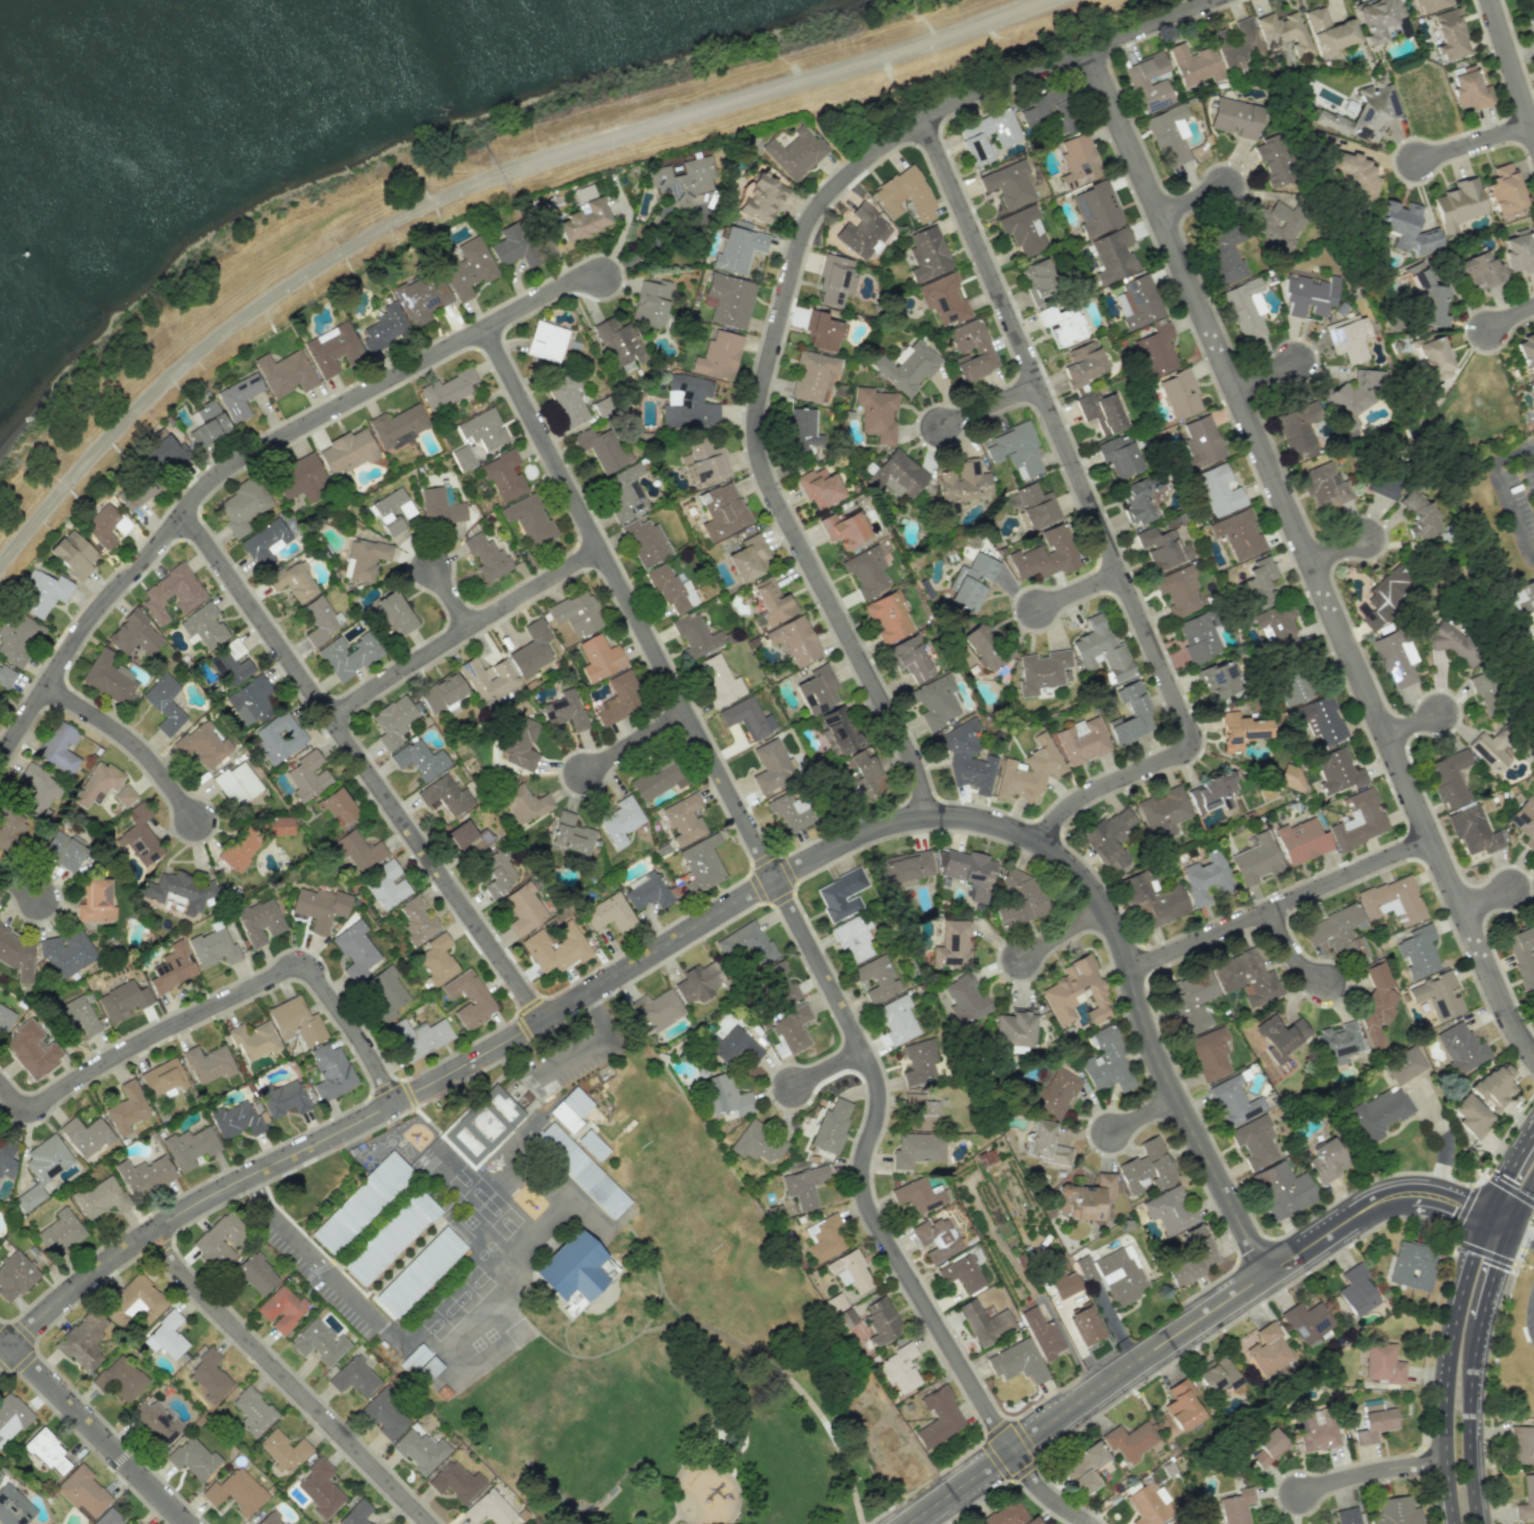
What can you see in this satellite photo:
building: (1533, 2)
building: (1377, 18)
building: (1531, 21)
building: (1283, 31)
building: (1328, 32)
building: (1450, 35)
building: (1237, 47)
building: (1195, 64)
road: (1512, 66)
river: (104, 75)
building: (1149, 82)
building: (1470, 89)
road: (771, 90)
building: (1041, 106)
building: (1364, 112)
building: (1235, 118)
building: (1169, 135)
building: (1007, 137)
road: (1474, 142)
building: (795, 152)
building: (1078, 160)
building: (1274, 160)
building: (1352, 176)
building: (682, 181)
building: (1008, 183)
building: (1504, 190)
building: (763, 195)
building: (905, 195)
road: (1194, 201)
building: (1457, 204)
building: (1096, 208)
building: (584, 219)
building: (1277, 223)
building: (1404, 228)
building: (864, 230)
building: (1023, 230)
building: (514, 246)
building: (739, 248)
building: (1518, 252)
building: (927, 253)
building: (1226, 253)
building: (1113, 255)
building: (468, 268)
building: (1479, 269)
building: (835, 279)
building: (1038, 280)
building: (1309, 294)
building: (422, 298)
building: (730, 298)
building: (651, 300)
building: (944, 300)
building: (1139, 302)
building: (1428, 302)
road: (787, 303)
building: (1245, 308)
road: (1510, 316)
building: (1061, 324)
building: (385, 327)
building: (825, 329)
road: (221, 337)
building: (1348, 337)
building: (546, 340)
building: (618, 342)
building: (332, 349)
building: (1525, 349)
building: (982, 350)
building: (1155, 350)
building: (719, 354)
building: (1431, 354)
building: (1082, 363)
building: (907, 368)
building: (286, 372)
building: (813, 373)
road: (1268, 376)
building: (1533, 382)
building: (447, 389)
building: (1533, 392)
building: (1180, 394)
building: (239, 395)
building: (1354, 396)
building: (567, 399)
building: (690, 403)
building: (605, 406)
road: (993, 407)
building: (1101, 412)
building: (876, 413)
building: (398, 423)
building: (207, 424)
building: (483, 429)
building: (1299, 429)
building: (802, 431)
building: (1201, 443)
building: (602, 448)
building: (1014, 449)
building: (347, 452)
building: (165, 453)
road: (247, 453)
road: (1514, 453)
road: (1531, 454)
building: (1119, 456)
building: (462, 458)
building: (706, 461)
street lamp: (747, 474)
building: (503, 475)
building: (300, 479)
building: (961, 484)
building: (1381, 484)
building: (1325, 486)
building: (819, 487)
building: (1217, 490)
building: (137, 492)
building: (626, 492)
building: (1140, 497)
building: (242, 506)
building: (440, 506)
building: (1036, 506)
road: (1514, 509)
building: (390, 510)
building: (722, 511)
building: (1419, 516)
road: (1098, 517)
building: (529, 519)
building: (105, 525)
building: (843, 528)
building: (1238, 534)
building: (645, 542)
building: (266, 543)
building: (1162, 548)
road: (1341, 551)
road: (1309, 552)
building: (73, 554)
building: (1045, 555)
building: (486, 557)
building: (366, 558)
building: (748, 558)
building: (866, 571)
building: (1260, 579)
building: (293, 580)
building: (971, 582)
building: (670, 589)
building: (1178, 591)
building: (171, 592)
building: (42, 593)
road: (1082, 593)
road: (449, 596)
building: (1385, 597)
building: (772, 601)
building: (1526, 606)
building: (575, 613)
building: (396, 614)
building: (887, 617)
building: (320, 619)
street lamp: (443, 621)
building: (203, 626)
road: (461, 630)
building: (134, 634)
building: (696, 635)
building: (1199, 636)
building: (19, 639)
building: (794, 640)
building: (986, 647)
building: (531, 650)
building: (1102, 650)
building: (348, 655)
building: (1394, 657)
building: (599, 658)
building: (910, 658)
building: (229, 664)
building: (1042, 671)
building: (6, 676)
building: (108, 677)
building: (489, 680)
building: (1218, 680)
building: (720, 681)
building: (1295, 687)
building: (816, 690)
building: (1486, 691)
building: (441, 692)
building: (619, 699)
building: (251, 701)
building: (936, 701)
building: (164, 703)
building: (564, 710)
building: (1130, 714)
building: (747, 718)
building: (1320, 719)
building: (392, 721)
road: (1416, 725)
building: (1240, 730)
building: (279, 737)
road: (128, 739)
building: (1081, 740)
building: (520, 744)
road: (639, 744)
building: (202, 745)
building: (59, 748)
building: (1490, 750)
building: (966, 758)
building: (419, 759)
building: (771, 766)
road: (363, 767)
building: (1028, 770)
building: (1337, 771)
building: (861, 775)
building: (307, 776)
building: (1289, 776)
building: (1448, 778)
building: (657, 780)
building: (97, 784)
building: (237, 784)
building: (37, 792)
building: (1211, 793)
building: (445, 795)
building: (124, 796)
building: (523, 804)
building: (337, 806)
building: (790, 812)
building: (1162, 812)
building: (682, 819)
building: (1358, 821)
building: (1525, 821)
building: (619, 822)
building: (11, 830)
building: (1473, 830)
building: (571, 835)
building: (139, 836)
building: (467, 838)
building: (1109, 838)
building: (1301, 841)
building: (240, 848)
building: (63, 851)
building: (357, 851)
building: (1255, 860)
building: (701, 864)
building: (906, 867)
building: (969, 871)
building: (496, 872)
building: (1205, 877)
road: (780, 883)
building: (385, 885)
road: (21, 886)
building: (179, 891)
building: (647, 892)
building: (841, 894)
building: (1019, 898)
building: (1152, 898)
building: (1393, 900)
road: (1491, 900)
building: (95, 901)
road: (1284, 904)
building: (319, 908)
building: (523, 908)
building: (609, 913)
building: (416, 920)
building: (260, 922)
road: (1066, 933)
building: (1338, 933)
building: (852, 939)
building: (745, 943)
building: (952, 944)
building: (213, 948)
building: (555, 949)
building: (356, 951)
building: (1417, 951)
building: (67, 952)
road: (1294, 952)
building: (1521, 954)
building: (16, 955)
building: (436, 959)
building: (172, 967)
building: (1247, 977)
building: (876, 978)
building: (697, 982)
building: (780, 983)
building: (1076, 992)
building: (384, 993)
building: (1533, 995)
road: (1140, 996)
building: (1437, 996)
building: (469, 999)
building: (964, 999)
road: (221, 1000)
building: (123, 1001)
building: (1190, 1001)
building: (1375, 1003)
building: (657, 1010)
road: (600, 1013)
building: (76, 1015)
building: (5, 1018)
building: (895, 1019)
building: (296, 1021)
building: (791, 1028)
building: (1014, 1028)
building: (1280, 1036)
building: (417, 1037)
building: (253, 1040)
building: (1337, 1043)
building: (733, 1047)
building: (1460, 1047)
building: (32, 1050)
building: (1209, 1053)
road: (569, 1055)
building: (917, 1060)
building: (1106, 1061)
road: (518, 1062)
building: (208, 1063)
building: (1403, 1065)
road: (464, 1068)
road: (833, 1070)
building: (330, 1071)
building: (163, 1077)
building: (1494, 1085)
building: (1054, 1092)
building: (725, 1096)
building: (283, 1098)
building: (1233, 1100)
building: (127, 1108)
building: (920, 1112)
building: (1379, 1113)
building: (1470, 1115)
building: (564, 1116)
road: (1146, 1116)
building: (236, 1120)
building: (483, 1125)
building: (831, 1126)
building: (85, 1136)
building: (1254, 1141)
building: (757, 1142)
building: (1045, 1144)
building: (592, 1145)
building: (189, 1147)
building: (917, 1149)
building: (1325, 1160)
building: (1147, 1167)
building: (42, 1169)
building: (580, 1170)
road: (1507, 1172)
building: (144, 1175)
building: (803, 1186)
road: (1510, 1188)
building: (1283, 1189)
building: (917, 1195)
building: (100, 1197)
building: (1087, 1197)
building: (361, 1203)
road: (1521, 1204)
road: (1464, 1208)
building: (1169, 1210)
road: (1497, 1224)
building: (60, 1232)
road: (1521, 1234)
building: (390, 1237)
building: (826, 1238)
building: (936, 1238)
building: (219, 1240)
building: (1200, 1246)
road: (1486, 1252)
road: (312, 1254)
building: (1412, 1266)
building: (575, 1271)
building: (850, 1271)
building: (419, 1272)
building: (1183, 1272)
building: (256, 1274)
building: (961, 1274)
building: (1114, 1274)
road: (1491, 1274)
building: (1065, 1285)
building: (1355, 1290)
building: (133, 1301)
building: (835, 1303)
building: (281, 1309)
road: (654, 1310)
park: (640, 1317)
road: (1533, 1317)
building: (846, 1318)
building: (881, 1321)
building: (1306, 1321)
building: (984, 1322)
building: (1086, 1324)
road: (1119, 1329)
road: (1188, 1329)
building: (1042, 1334)
building: (166, 1336)
road: (6, 1339)
building: (83, 1341)
building: (319, 1342)
road: (554, 1344)
road: (614, 1347)
building: (1264, 1351)
road: (6, 1352)
building: (414, 1358)
road: (761, 1358)
building: (1017, 1362)
building: (1382, 1363)
road: (1447, 1368)
building: (899, 1369)
building: (427, 1370)
building: (209, 1377)
building: (354, 1377)
building: (1217, 1377)
building: (120, 1379)
road: (289, 1381)
road: (732, 1389)
building: (1181, 1405)
building: (252, 1411)
building: (384, 1414)
building: (11, 1416)
building: (938, 1417)
building: (155, 1422)
road: (1467, 1422)
building: (1374, 1425)
road: (739, 1429)
building: (1315, 1429)
road: (708, 1433)
road: (100, 1435)
building: (733, 1439)
road: (982, 1440)
building: (1129, 1441)
building: (1521, 1445)
building: (1267, 1447)
building: (282, 1450)
building: (420, 1450)
building: (46, 1451)
building: (193, 1458)
road: (702, 1458)
park: (756, 1459)
building: (1084, 1467)
road: (1371, 1472)
building: (456, 1482)
building: (320, 1488)
building: (82, 1492)
building: (236, 1492)
road: (1044, 1493)
building: (1526, 1498)
building: (1147, 1504)
building: (1236, 1506)
building: (13, 1507)
building: (489, 1508)
building: (1396, 1511)
building: (355, 1514)
building: (1009, 1515)
building: (1346, 1516)
building: (108, 1518)
building: (269, 1519)
building: (135, 1522)
building: (1179, 1522)

